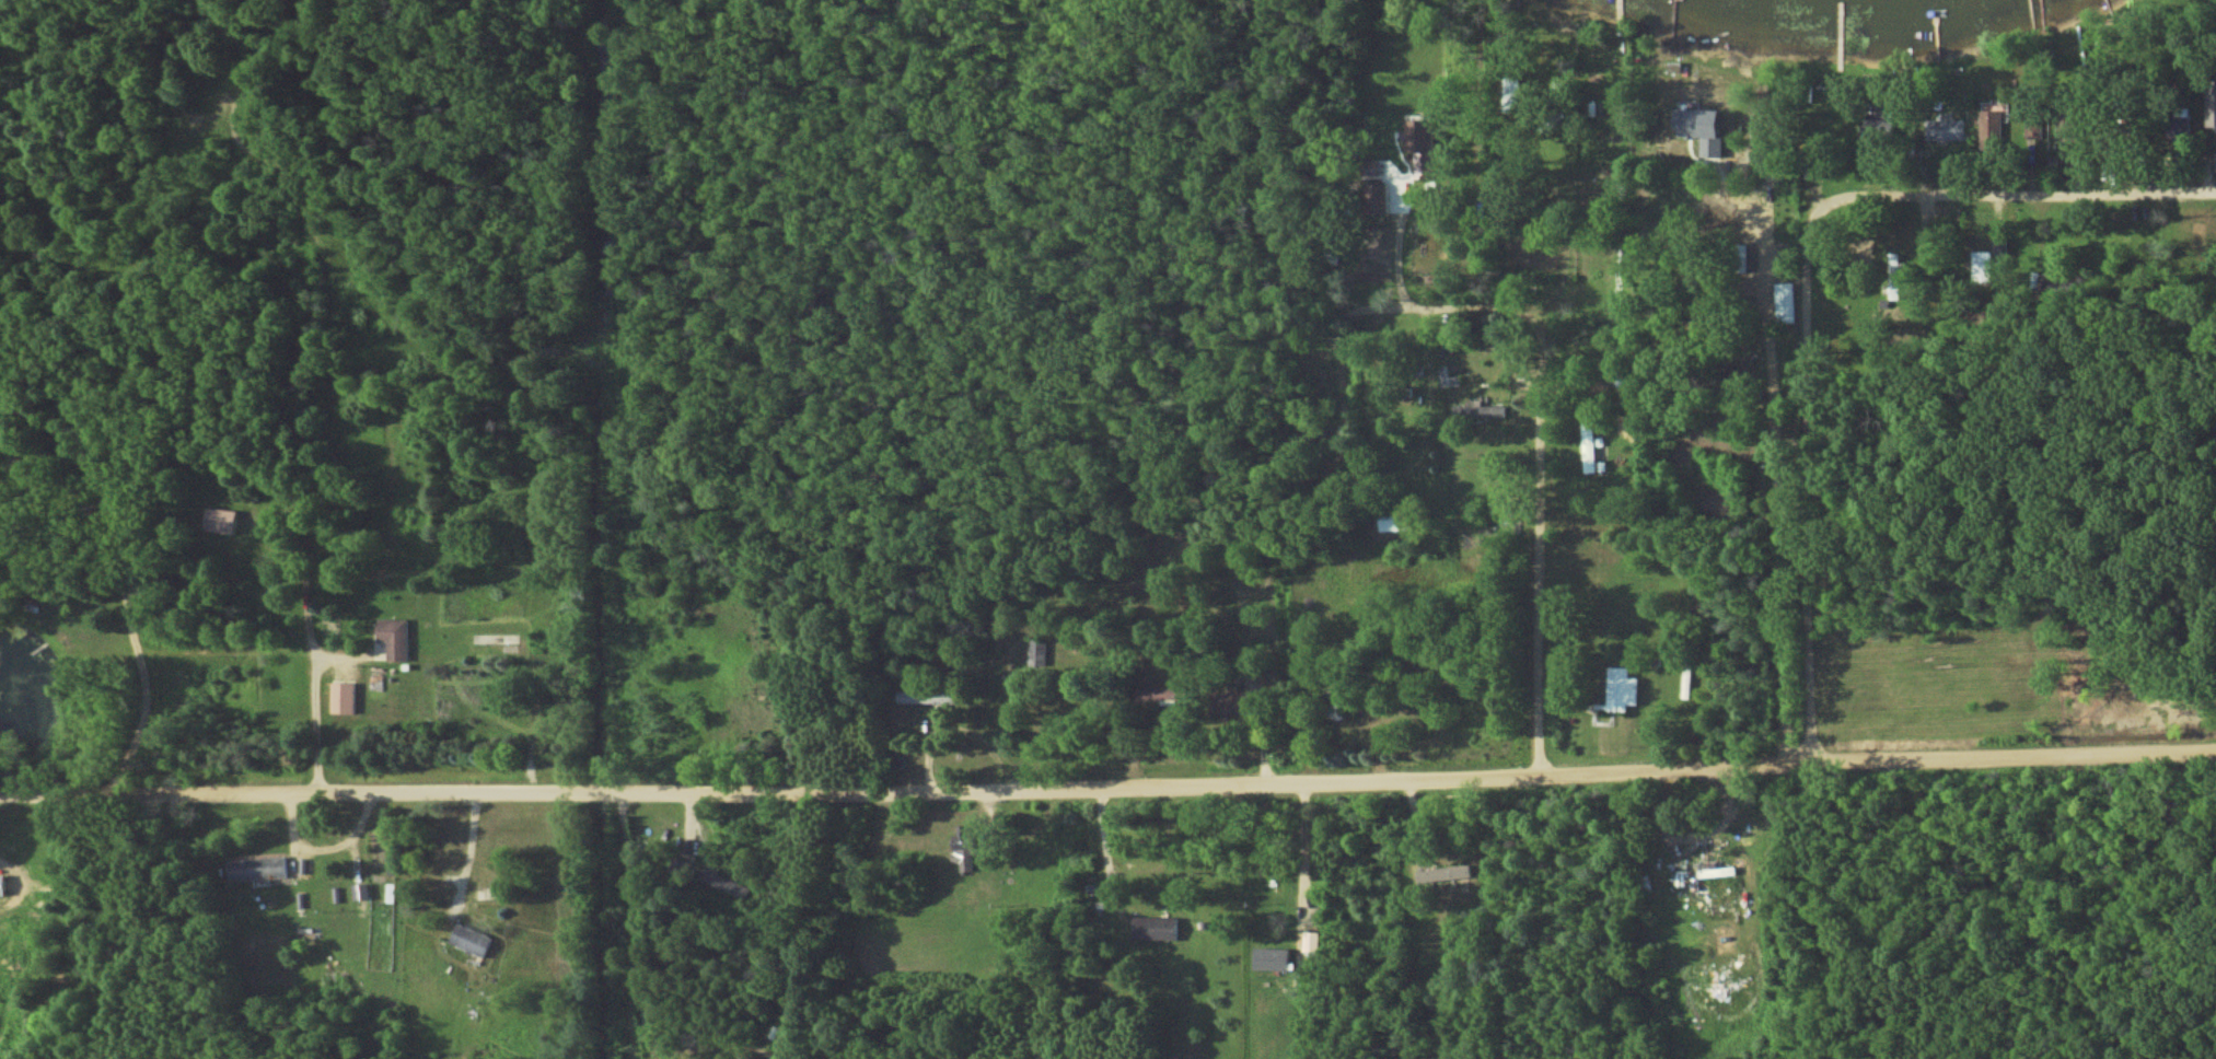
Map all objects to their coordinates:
building: (2213, 102)
building: (2032, 128)
building: (1712, 129)
building: (1946, 129)
building: (1989, 129)
building: (1422, 146)
road: (2015, 191)
building: (1369, 193)
road: (1153, 230)
road: (1399, 246)
building: (1979, 267)
road: (1646, 287)
building: (1784, 295)
road: (1810, 302)
building: (1445, 376)
building: (1486, 411)
building: (1591, 446)
building: (220, 520)
building: (1395, 522)
road: (1809, 579)
road: (1785, 580)
road: (305, 581)
building: (396, 638)
building: (1035, 653)
building: (1623, 688)
building: (1159, 693)
building: (345, 697)
road: (320, 705)
road: (531, 722)
road: (1107, 783)
building: (966, 845)
road: (1302, 846)
road: (1094, 848)
road: (468, 851)
building: (258, 869)
building: (1442, 875)
building: (4, 885)
building: (728, 885)
building: (362, 892)
building: (1155, 928)
building: (475, 940)
building: (1309, 941)
building: (1274, 958)

